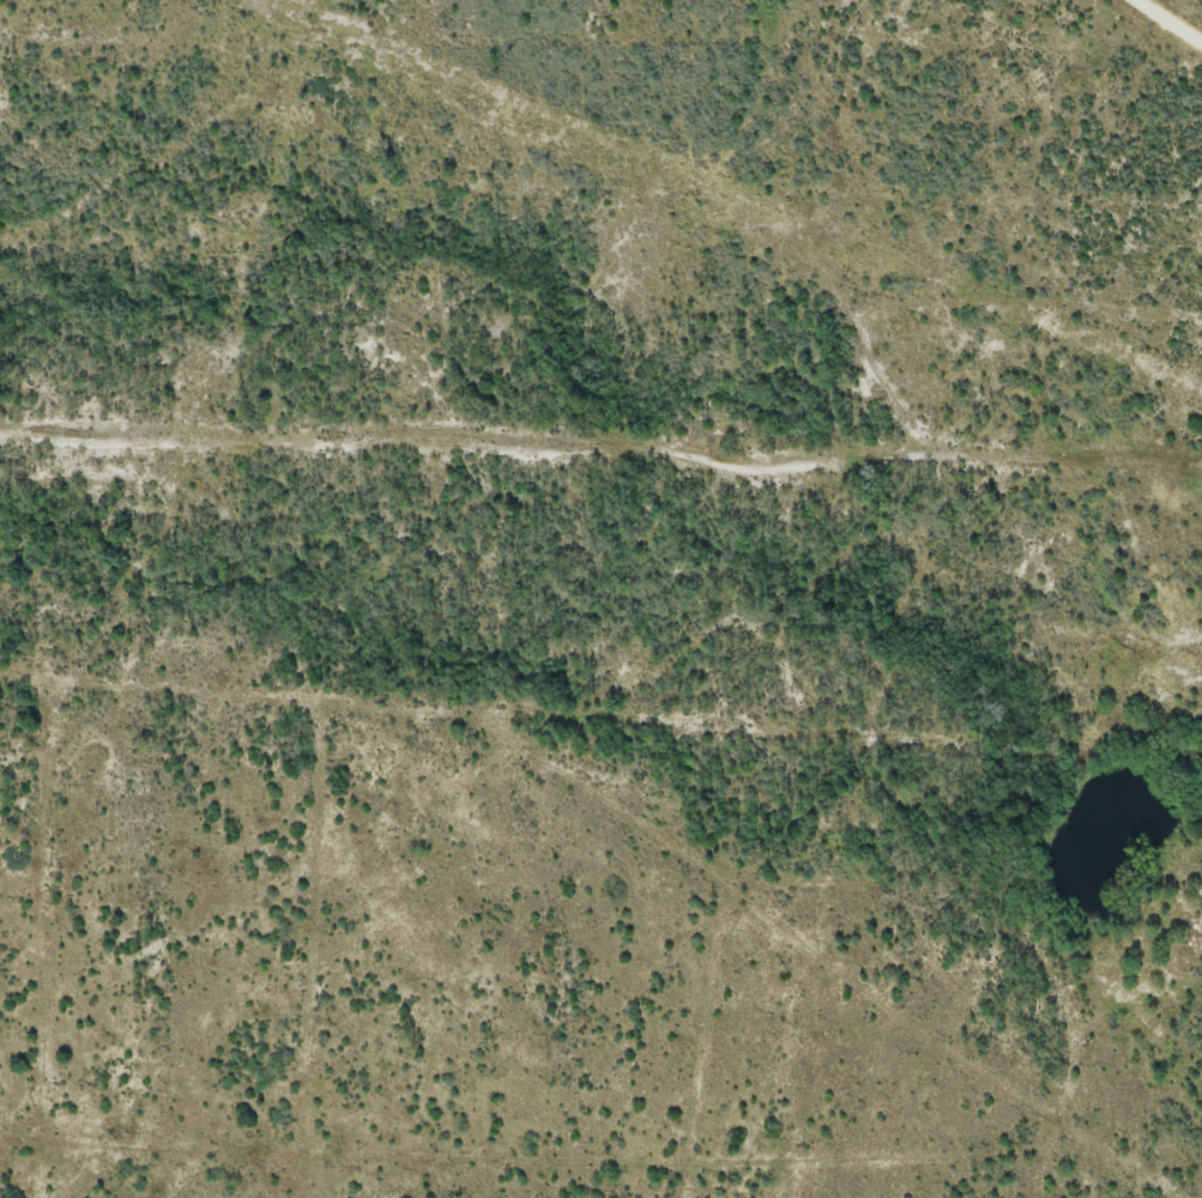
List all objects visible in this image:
road: (1166, 23)

